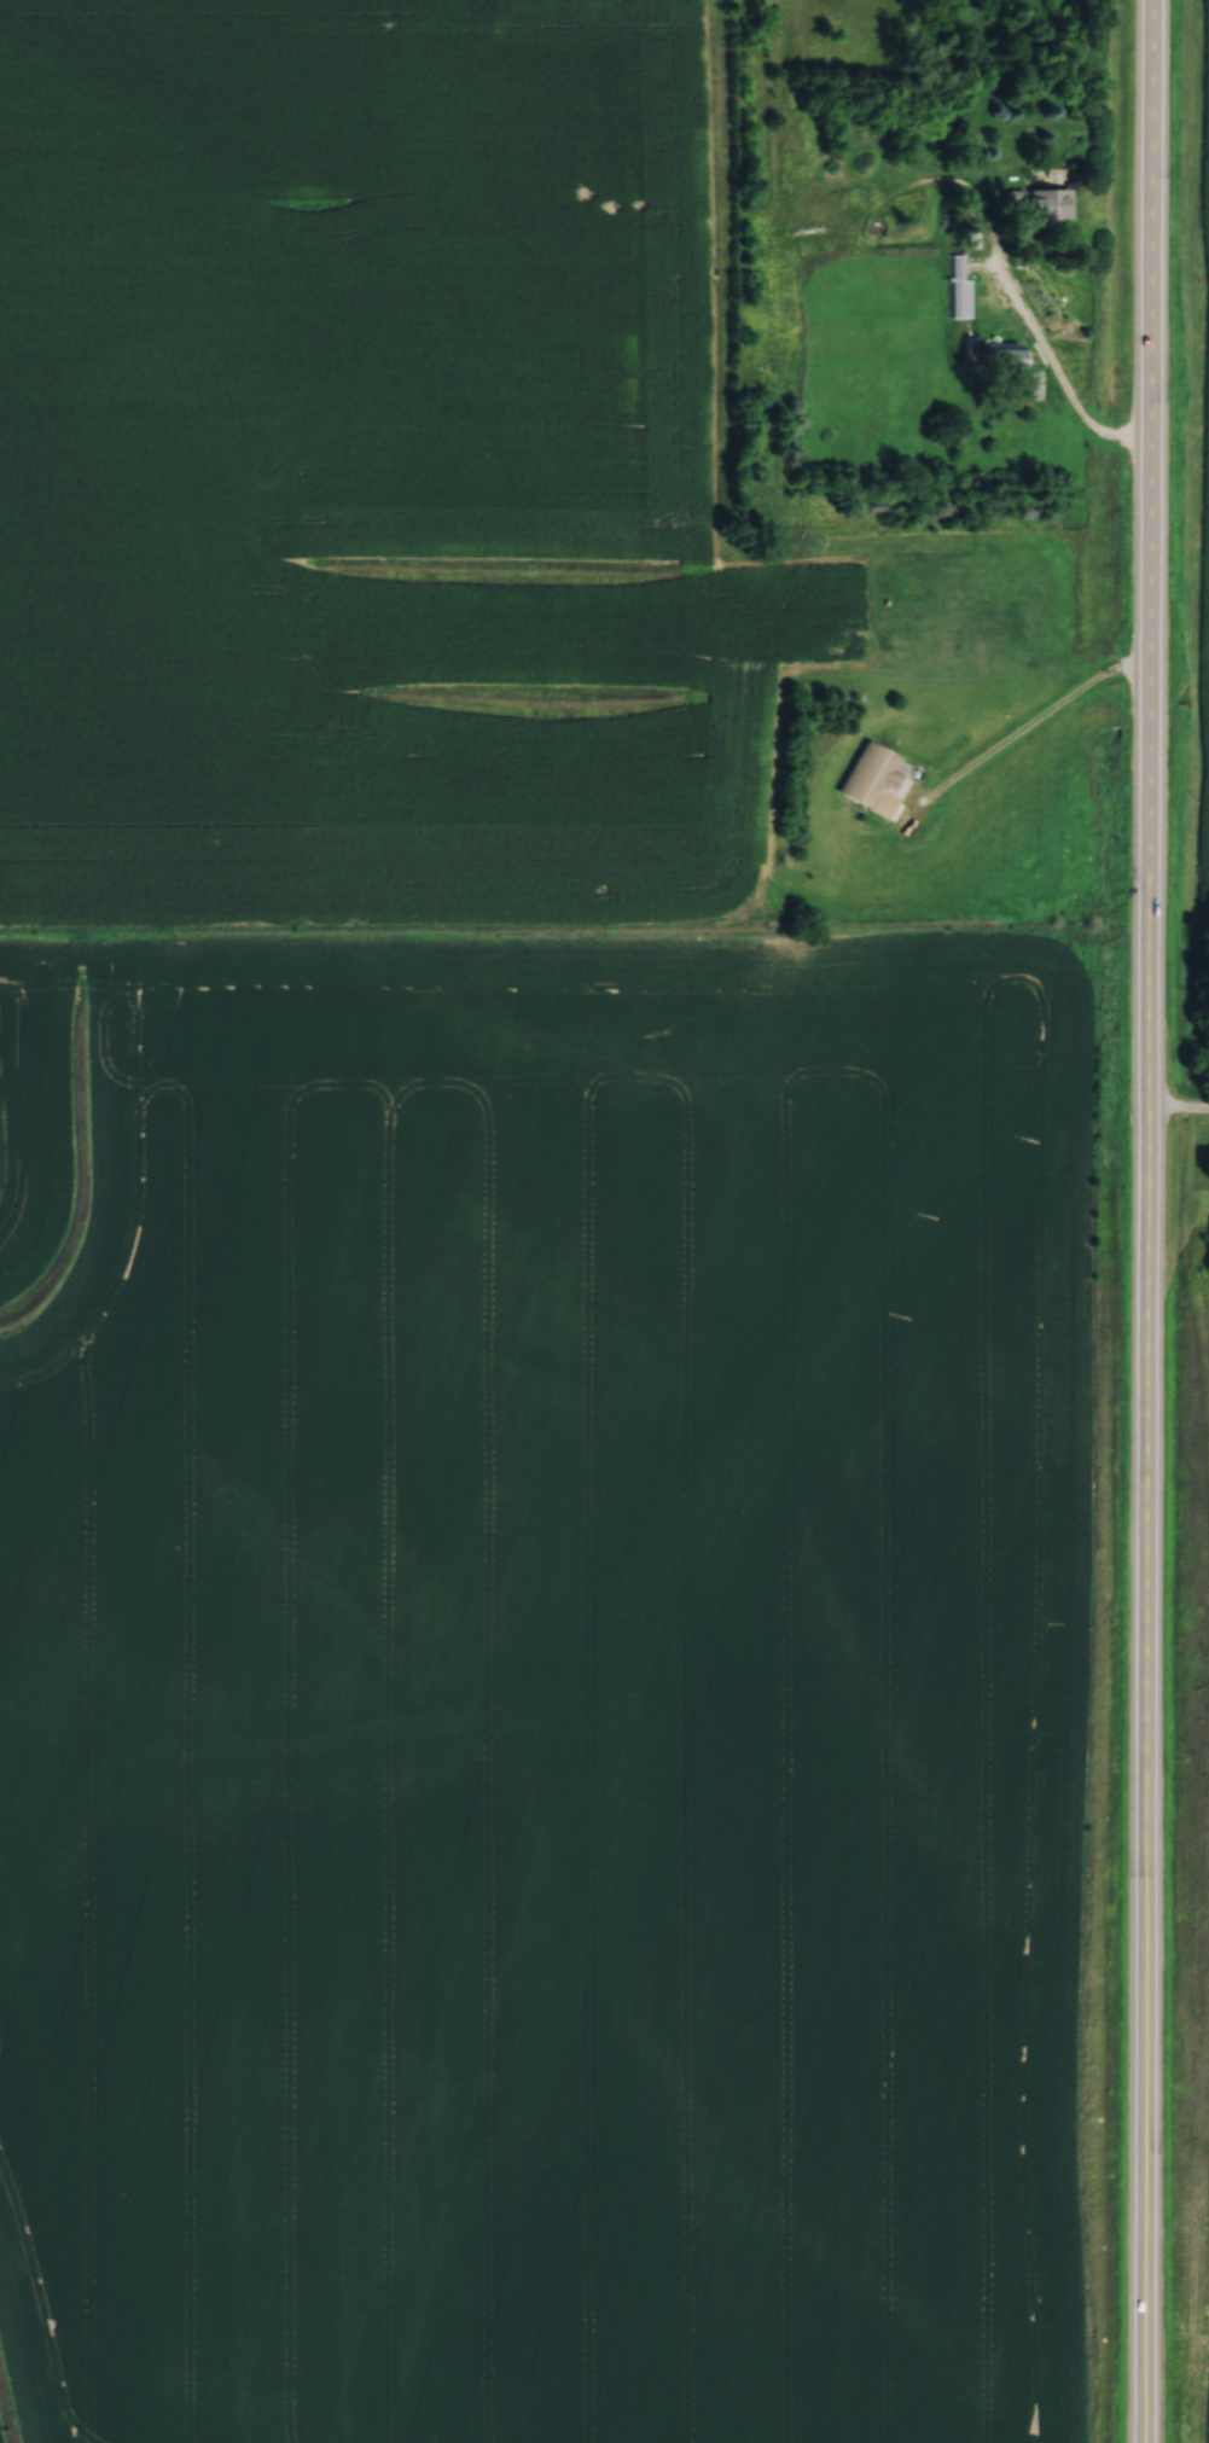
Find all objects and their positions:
building: (1046, 199)
building: (996, 354)
road: (1060, 374)
road: (1033, 731)
building: (871, 776)
road: (1181, 1111)
road: (1152, 1221)

